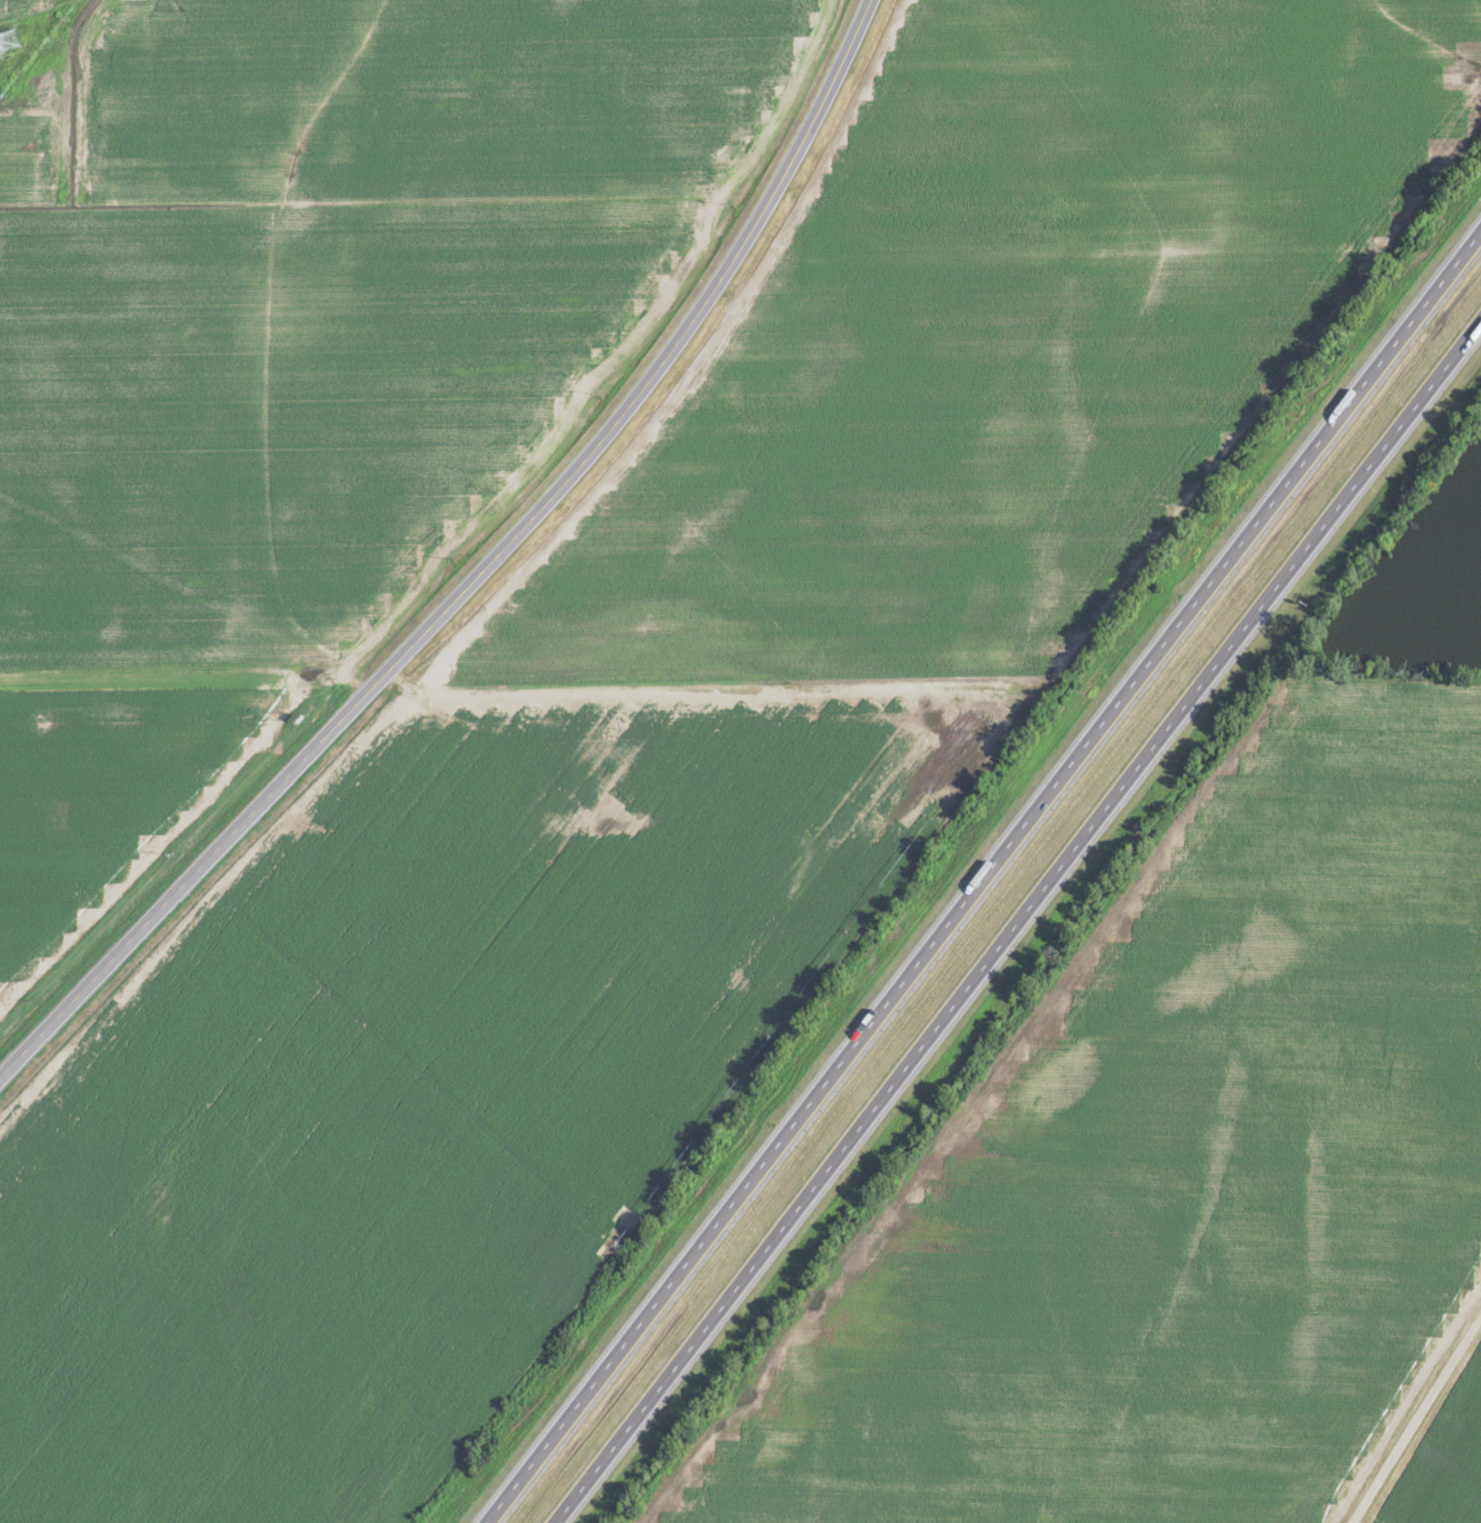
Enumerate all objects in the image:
power tower: (12, 38)
road: (479, 573)
crop: (1419, 580)
road: (982, 875)
road: (1018, 922)
road: (1414, 1419)

